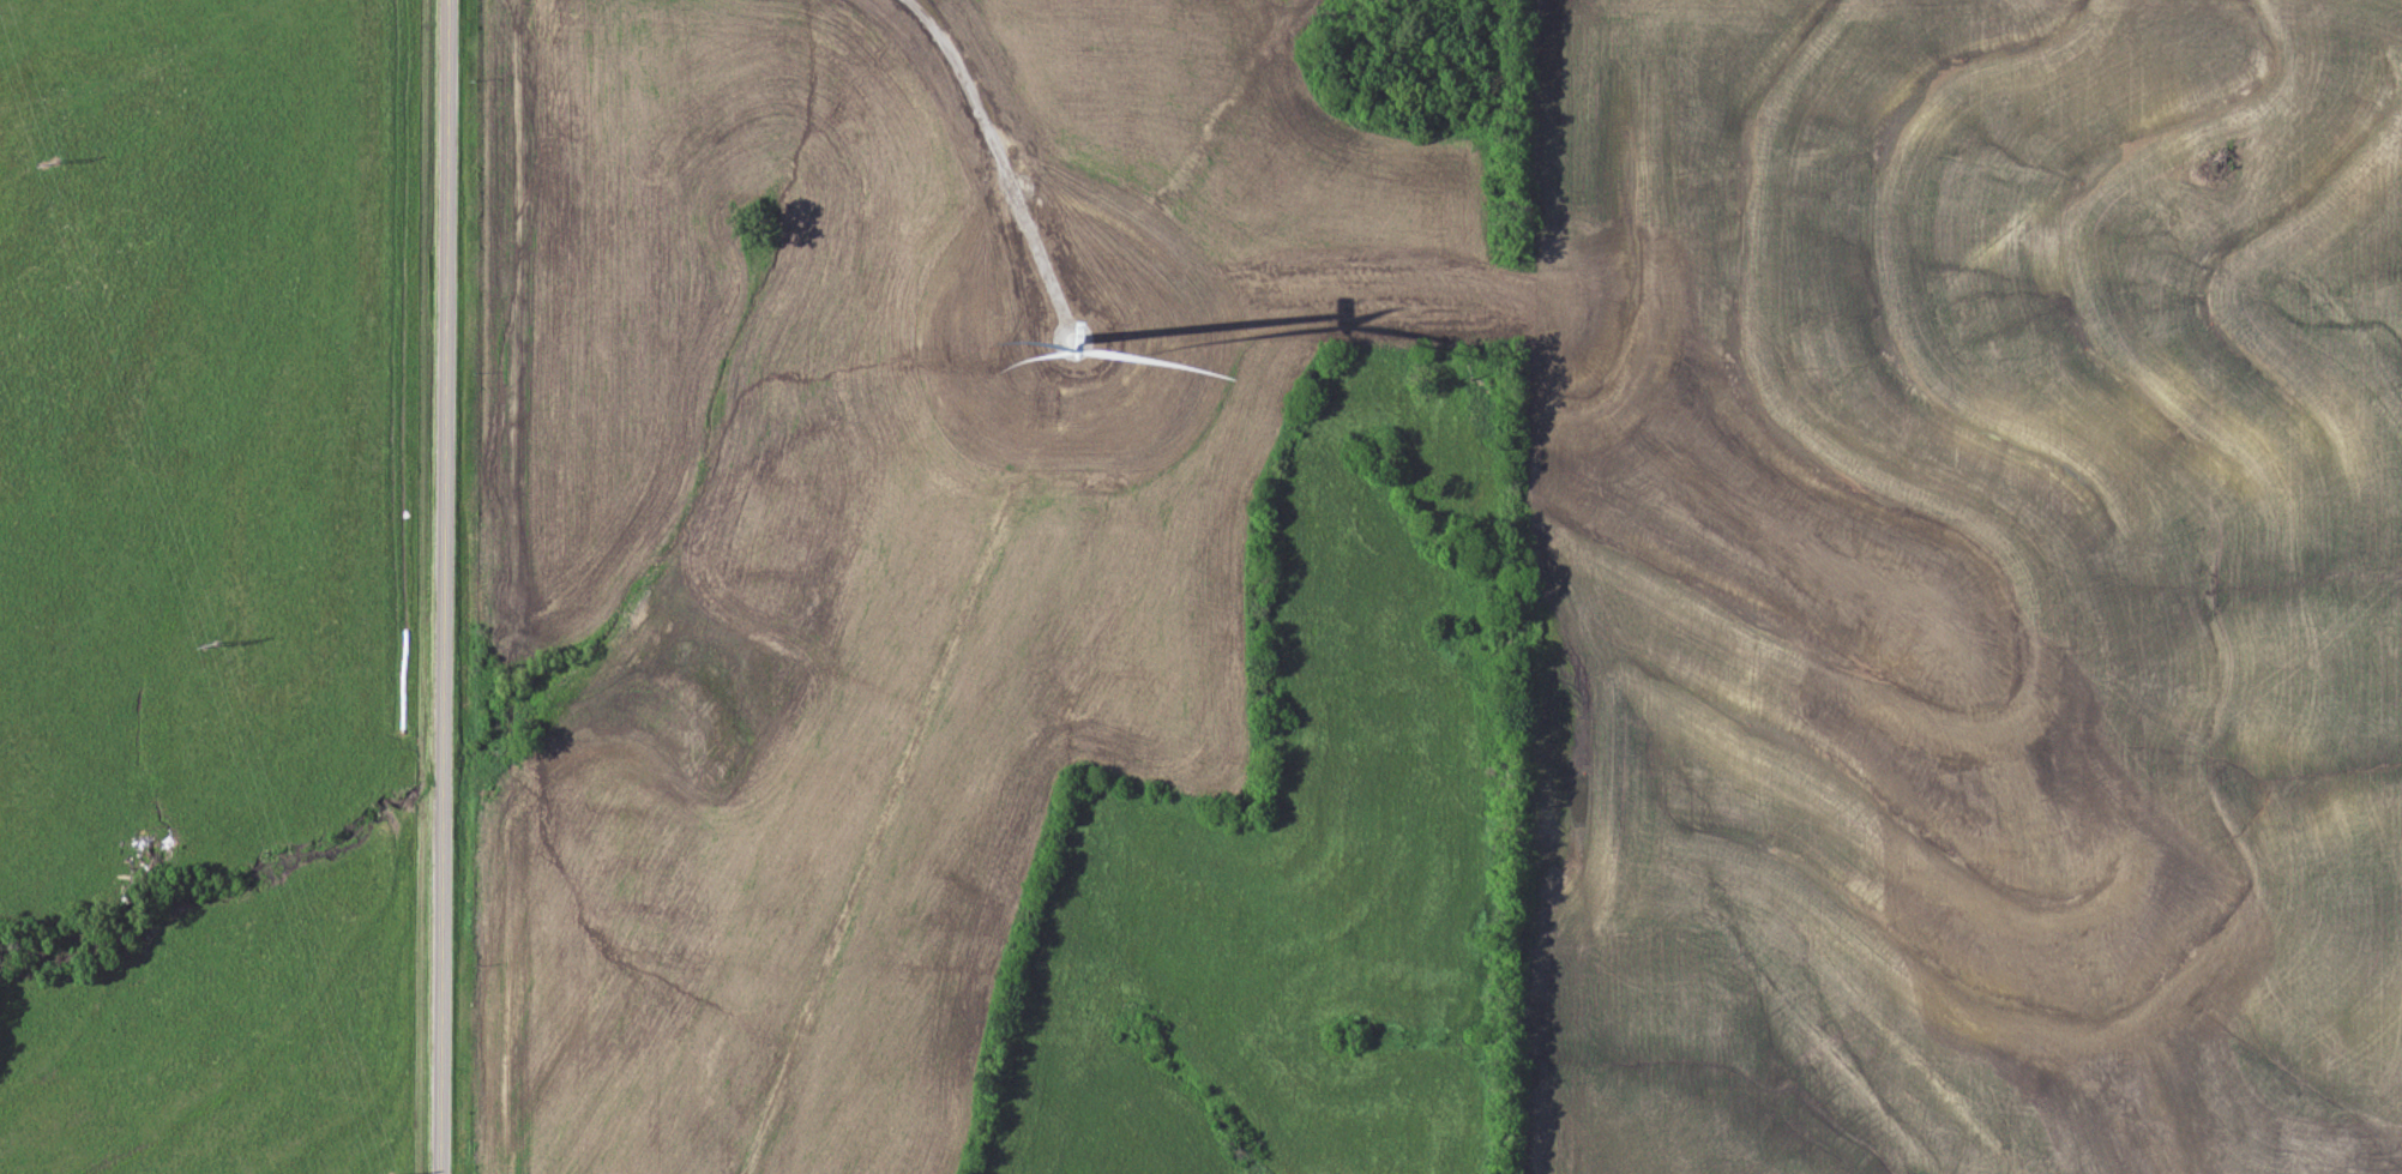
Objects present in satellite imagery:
wind turbine: (1072, 354)
road: (441, 586)

